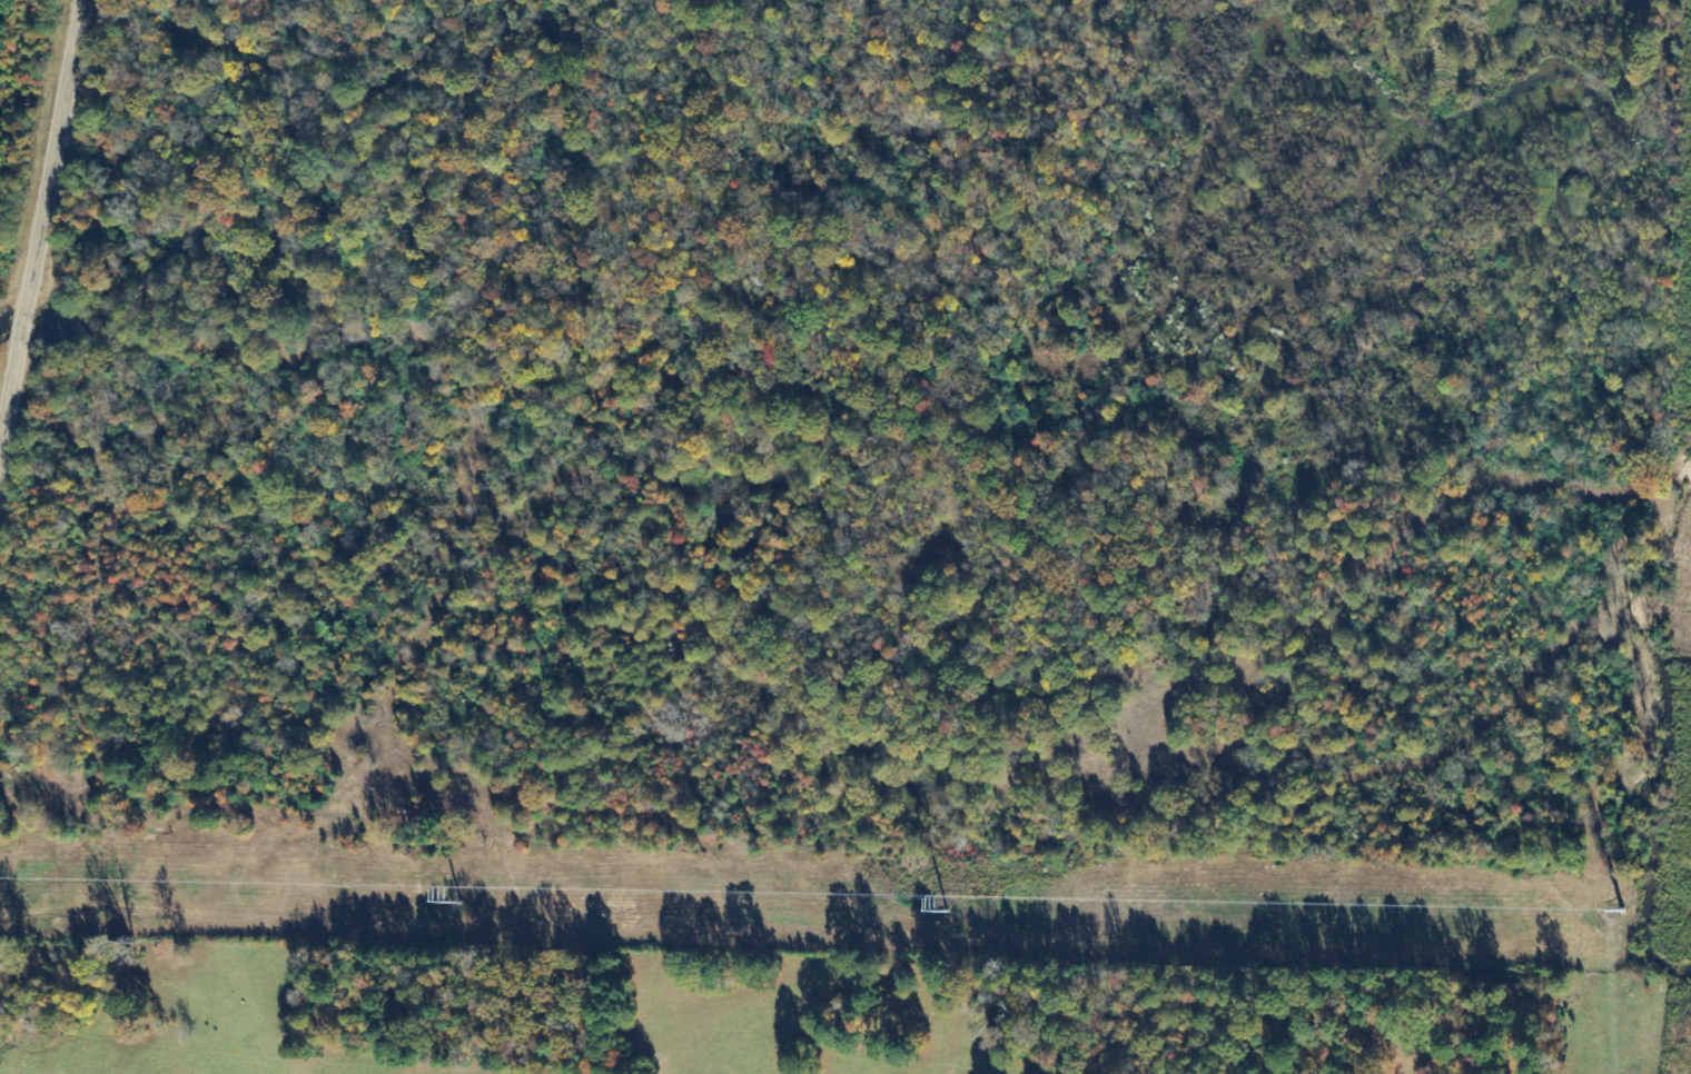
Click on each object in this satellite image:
road: (42, 227)
power tower: (1628, 911)

